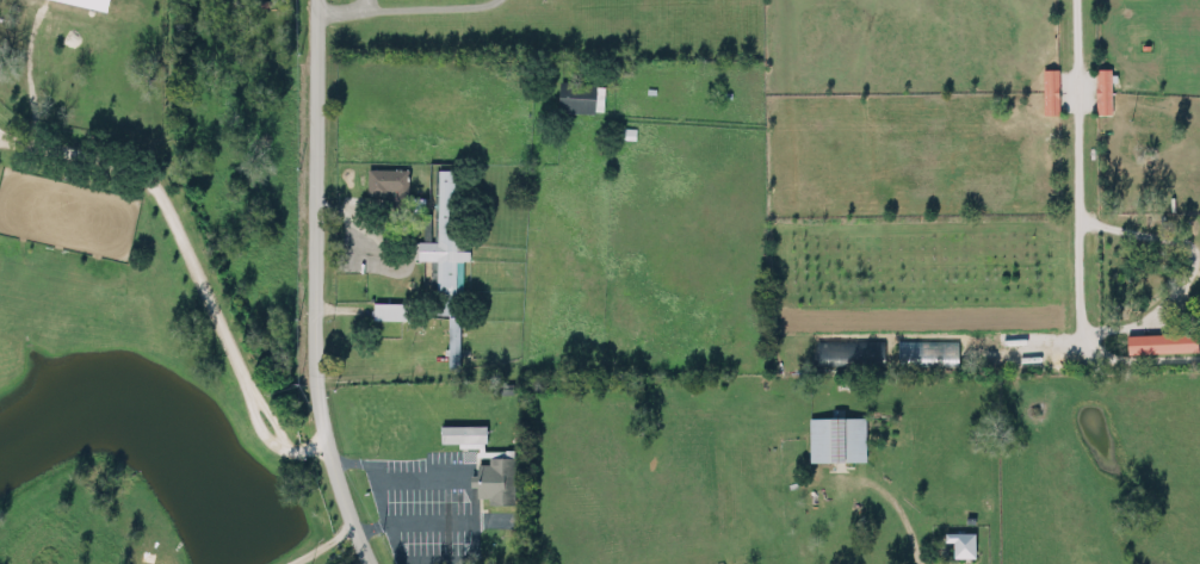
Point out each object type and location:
building: (95, 1)
road: (363, 2)
road: (403, 7)
road: (25, 74)
building: (1050, 88)
building: (1102, 88)
building: (580, 94)
road: (1076, 172)
building: (388, 181)
building: (444, 241)
road: (191, 250)
road: (1188, 266)
road: (313, 286)
building: (389, 309)
building: (452, 339)
building: (1161, 341)
building: (909, 351)
road: (1138, 357)
building: (462, 432)
building: (836, 436)
road: (469, 486)
road: (893, 498)
building: (960, 541)
road: (324, 547)

